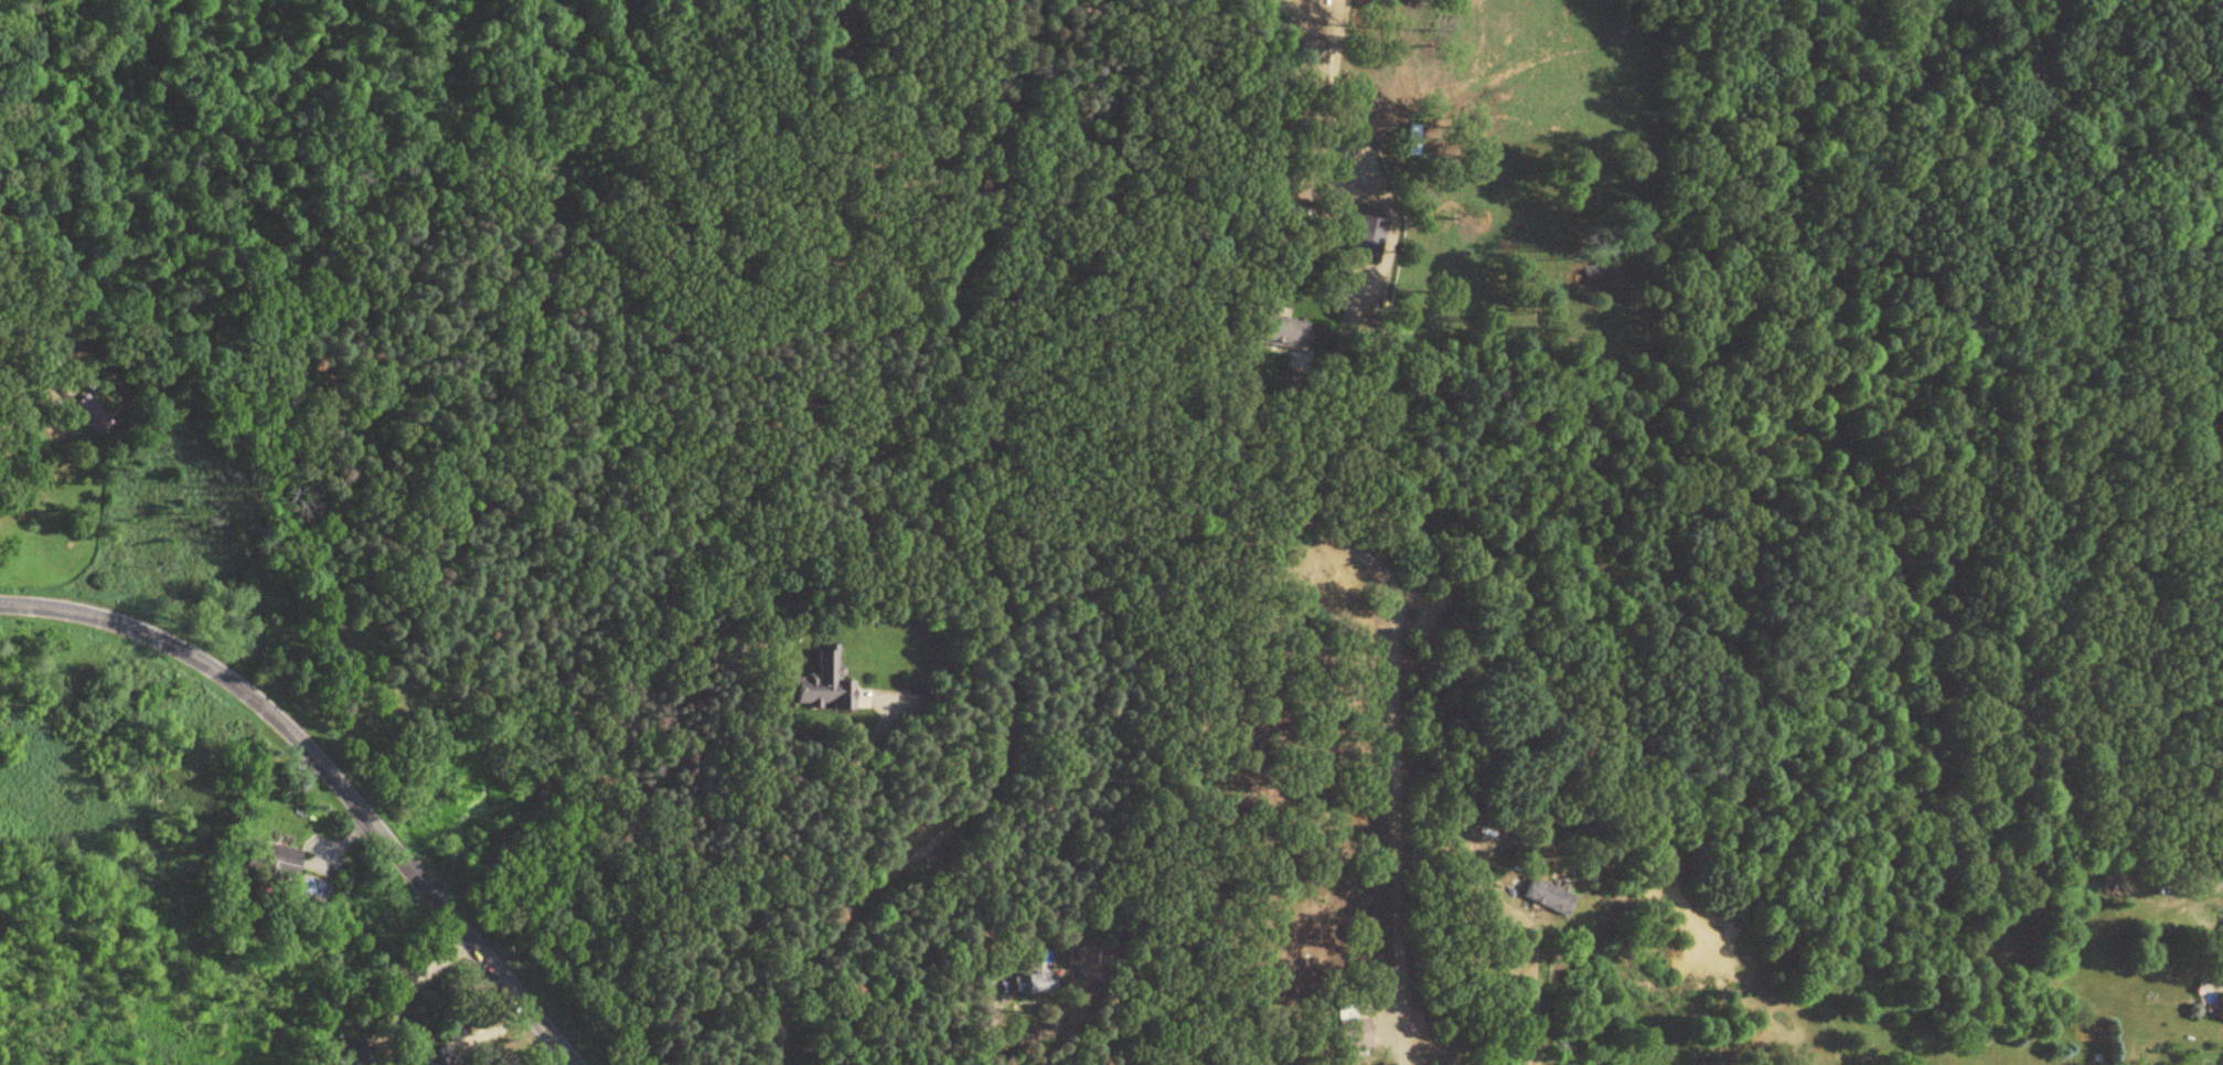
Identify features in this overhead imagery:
park: (2116, 2)
road: (1024, 79)
building: (1366, 238)
building: (1281, 337)
road: (1289, 487)
road: (1002, 493)
building: (822, 689)
road: (331, 768)
road: (1397, 808)
building: (268, 863)
building: (1545, 901)
road: (834, 928)
building: (1041, 986)
road: (407, 991)
road: (1530, 998)
building: (2219, 1014)
road: (995, 1022)
building: (1354, 1032)
building: (349, 1056)

